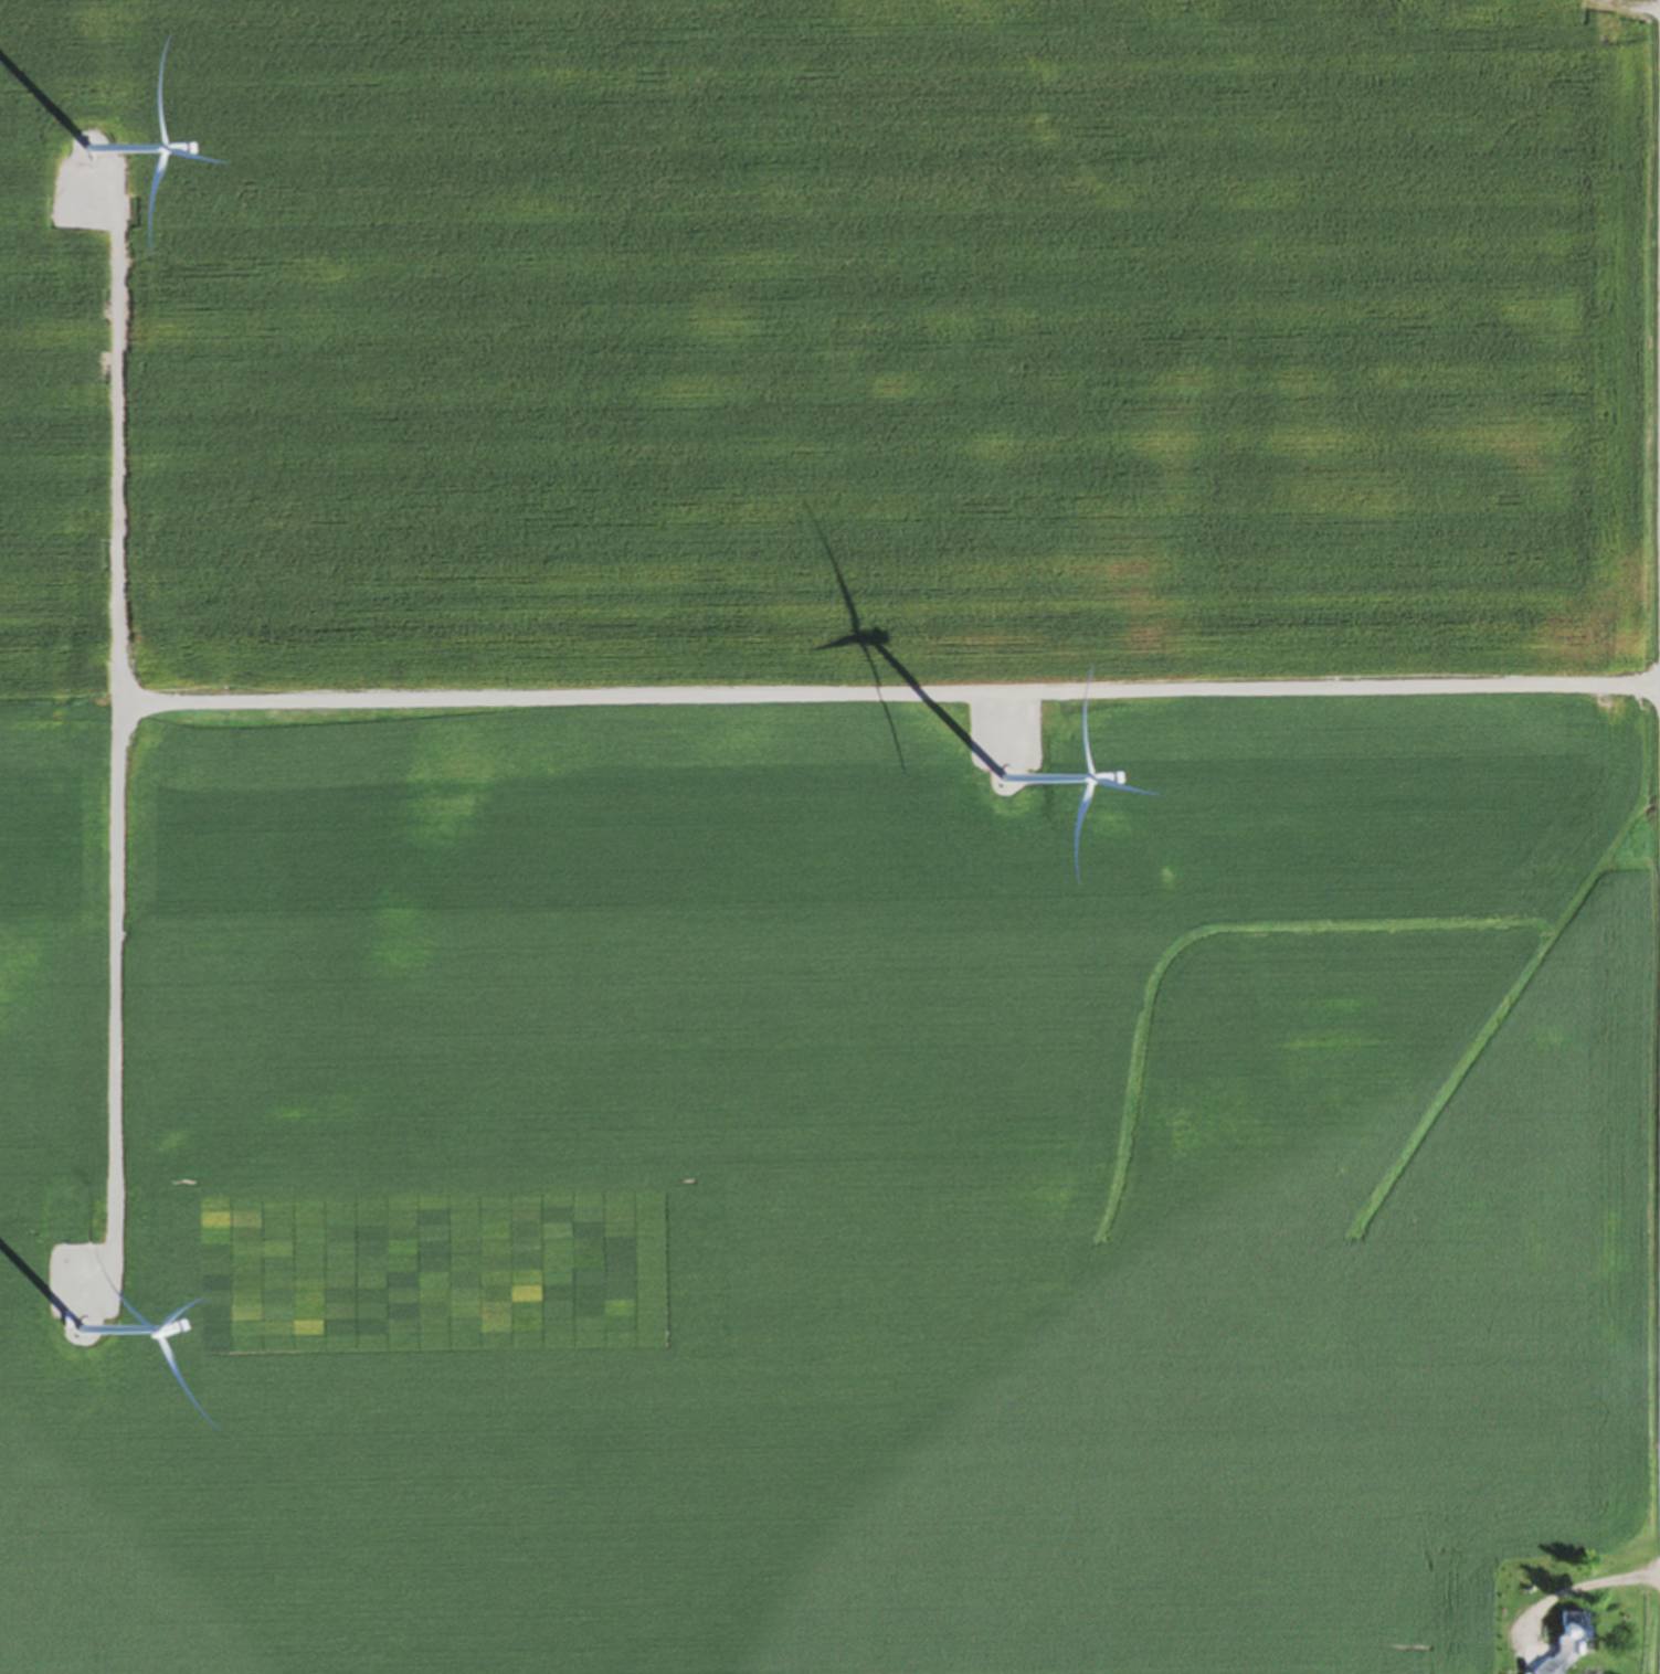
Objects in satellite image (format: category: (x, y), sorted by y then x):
building: (1440, 0)
wind turbine: (88, 155)
road: (884, 700)
road: (106, 746)
wind turbine: (1005, 781)
wind turbine: (83, 1336)
building: (1568, 1642)
building: (1532, 1673)

